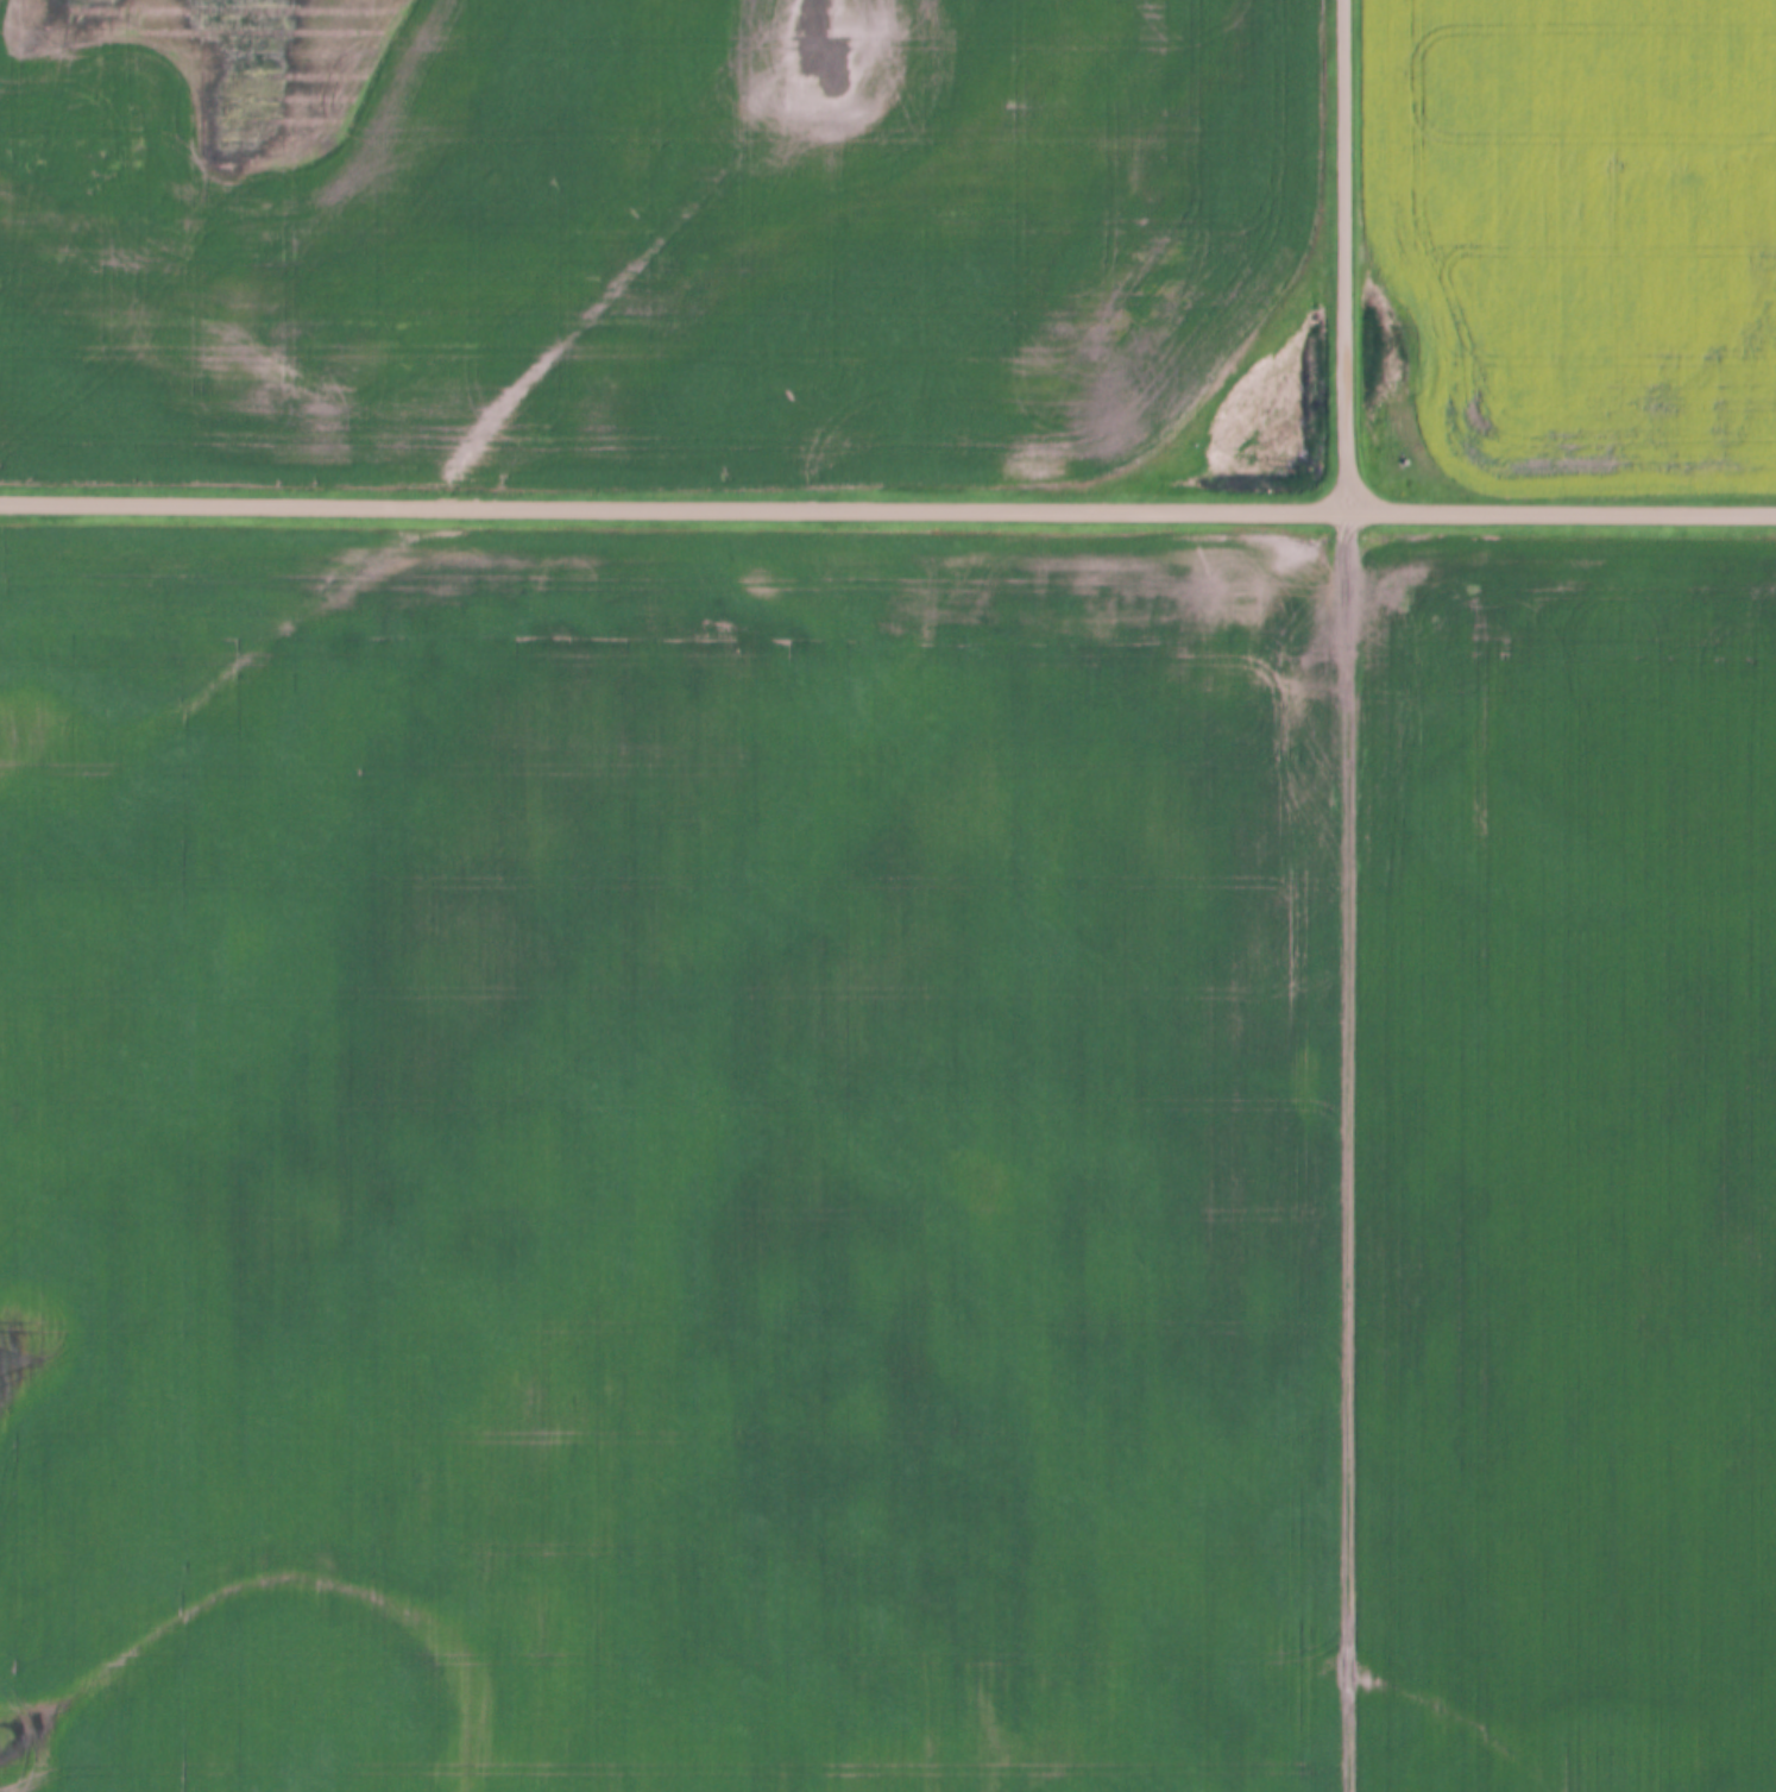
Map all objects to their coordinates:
road: (1348, 253)
road: (887, 504)
road: (1354, 1149)

